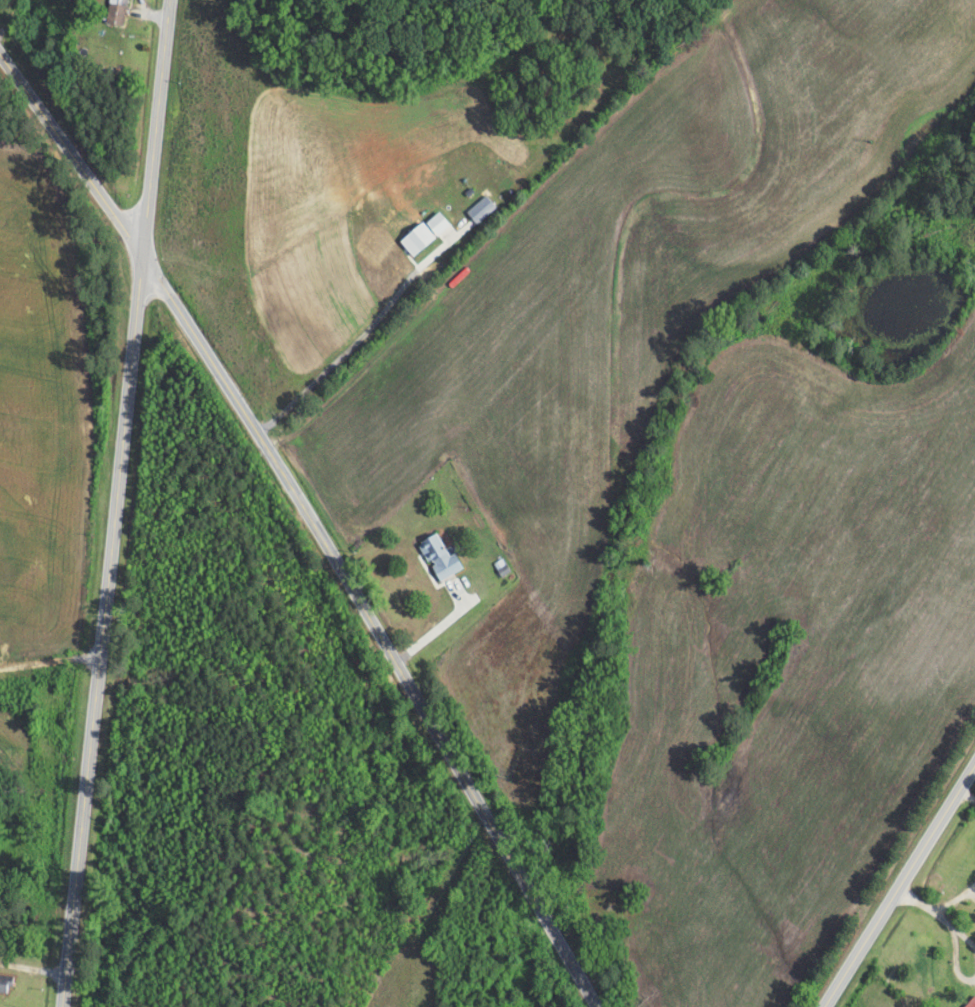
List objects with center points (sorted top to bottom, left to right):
building: (119, 12)
road: (73, 152)
road: (118, 503)
building: (438, 556)
road: (380, 627)
road: (51, 649)
road: (897, 886)
building: (5, 985)
building: (971, 1002)

